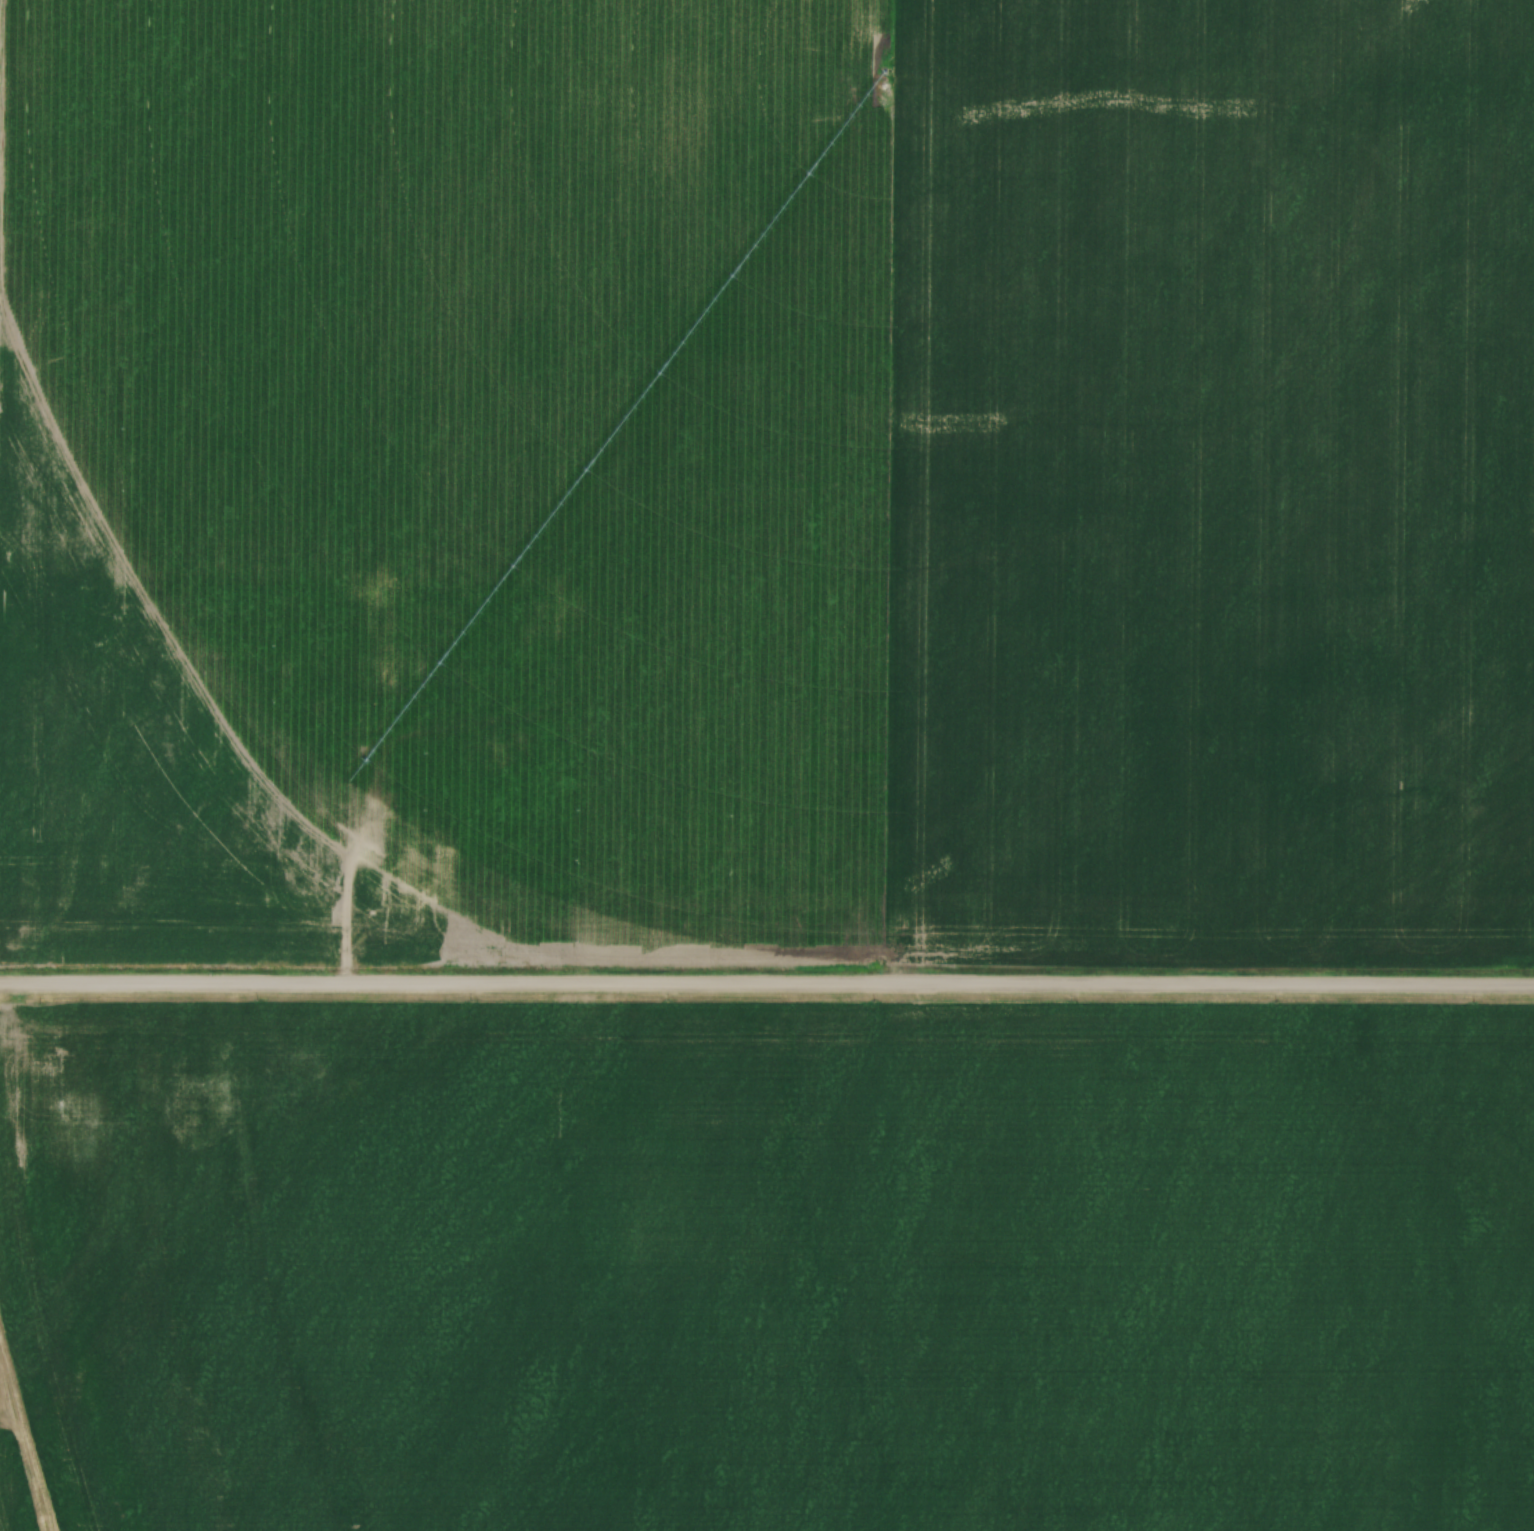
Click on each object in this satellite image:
road: (347, 891)
road: (766, 989)

